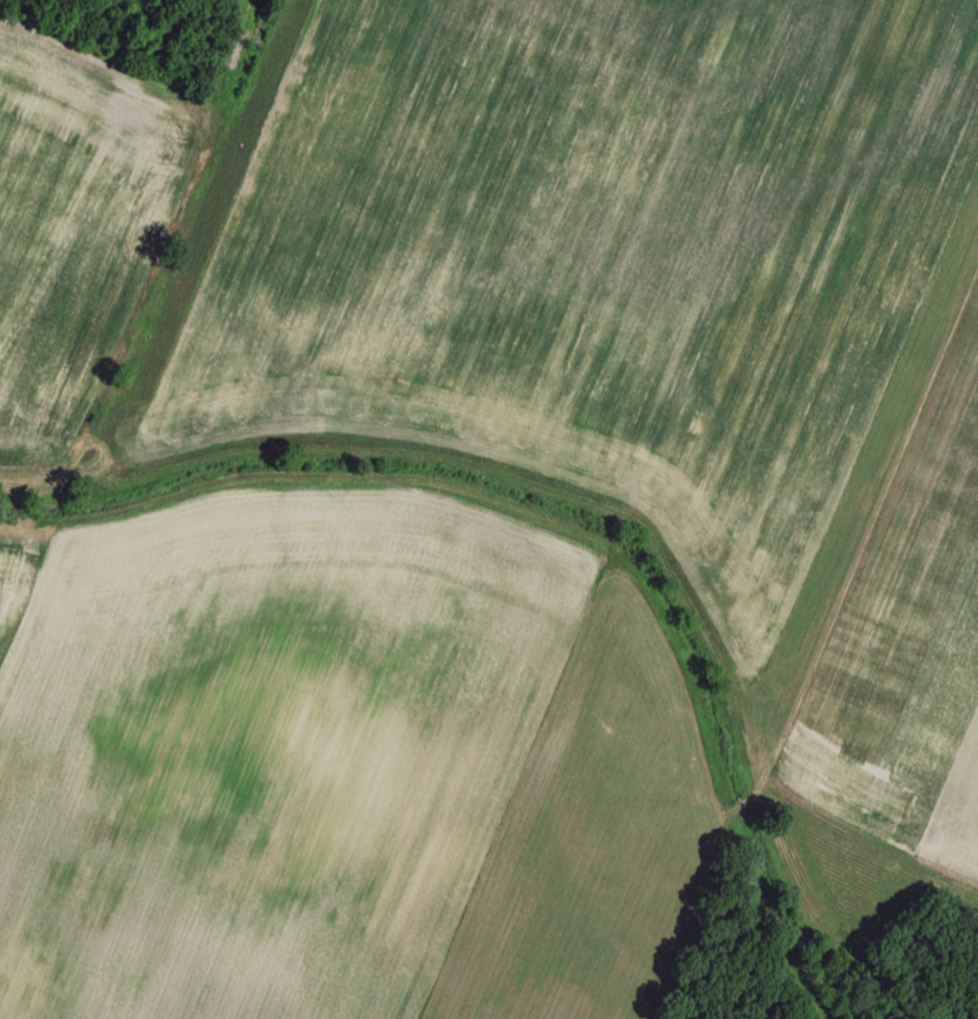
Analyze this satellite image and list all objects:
crop: (77, 212)
crop: (637, 311)
crop: (355, 779)

